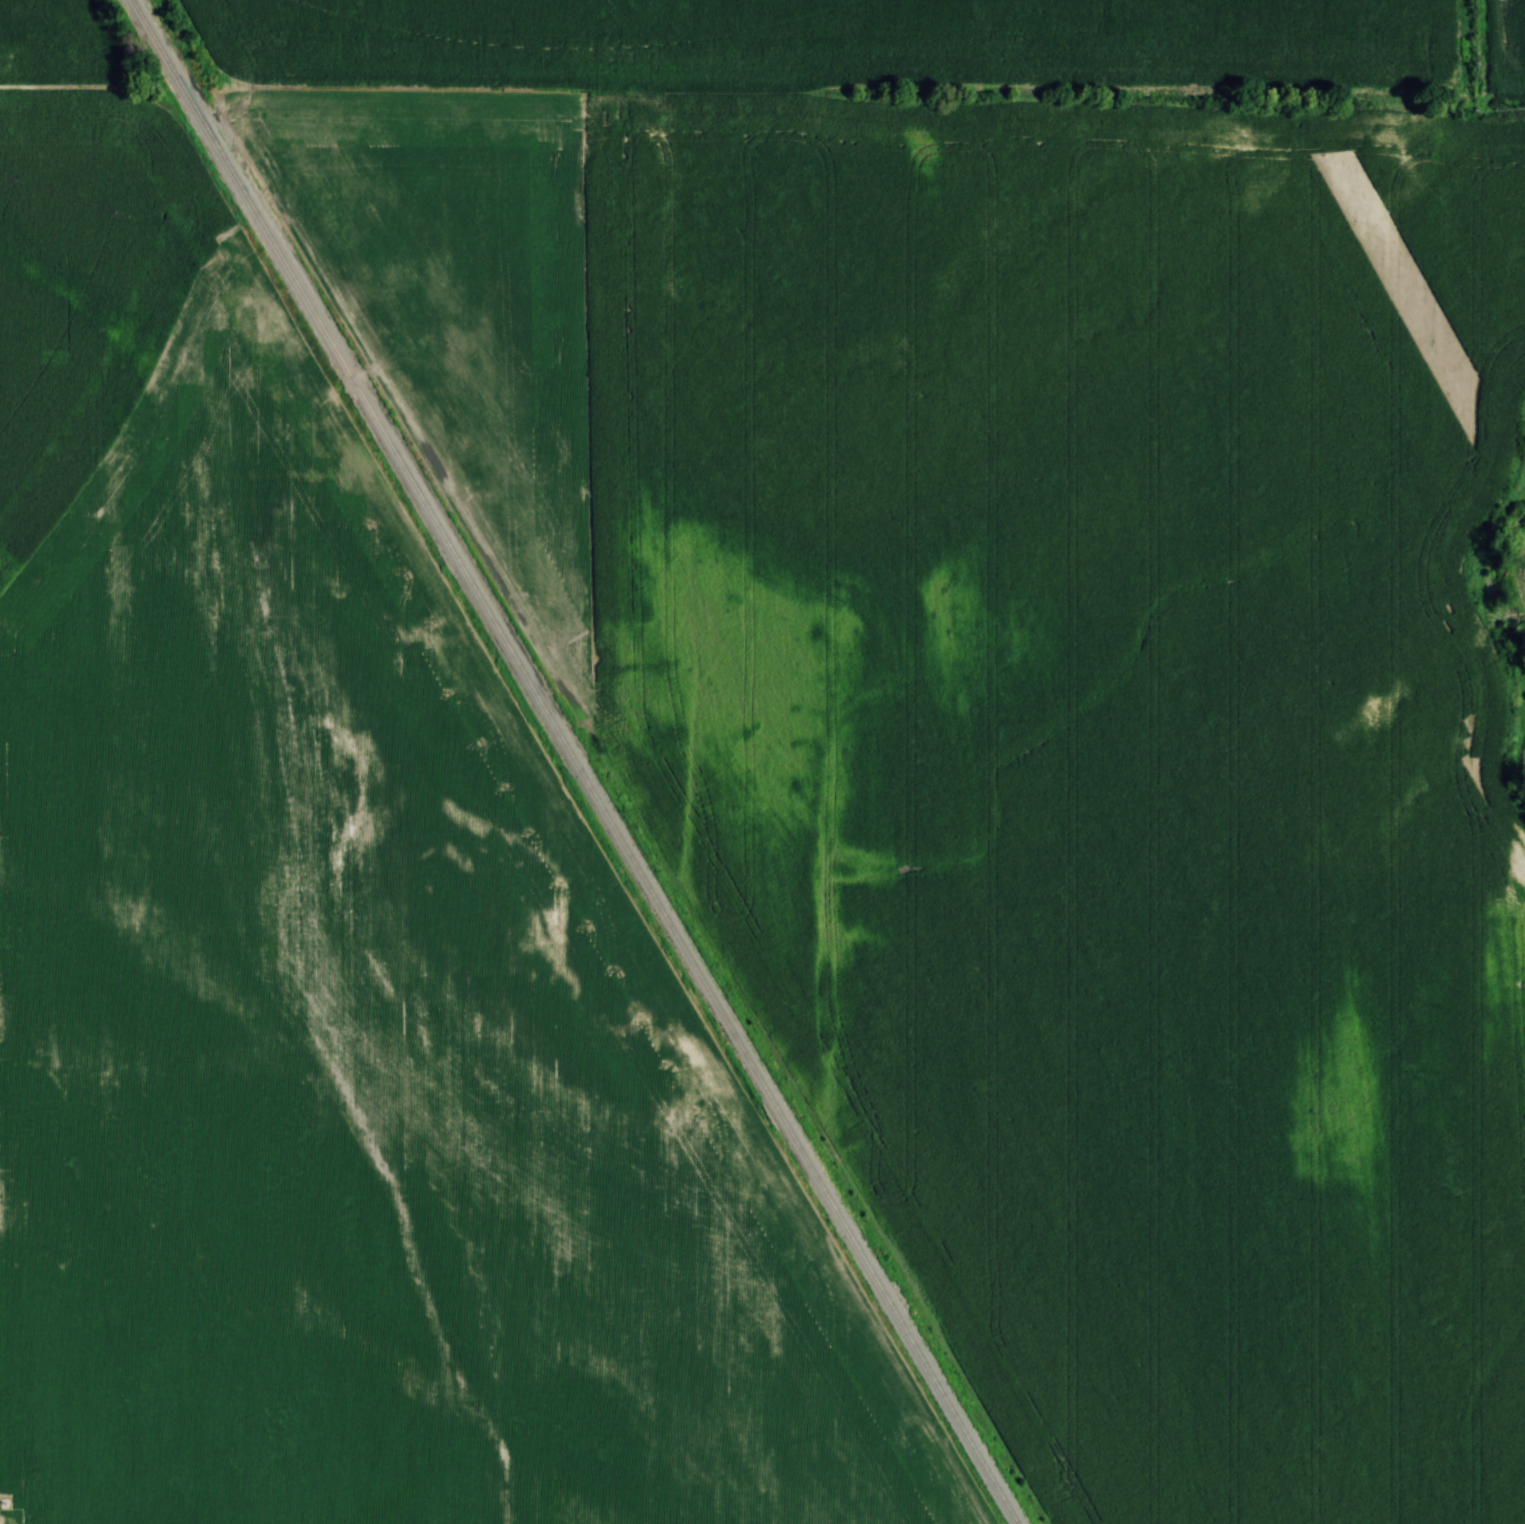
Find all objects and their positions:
crop: (1523, 572)
railway: (575, 762)

